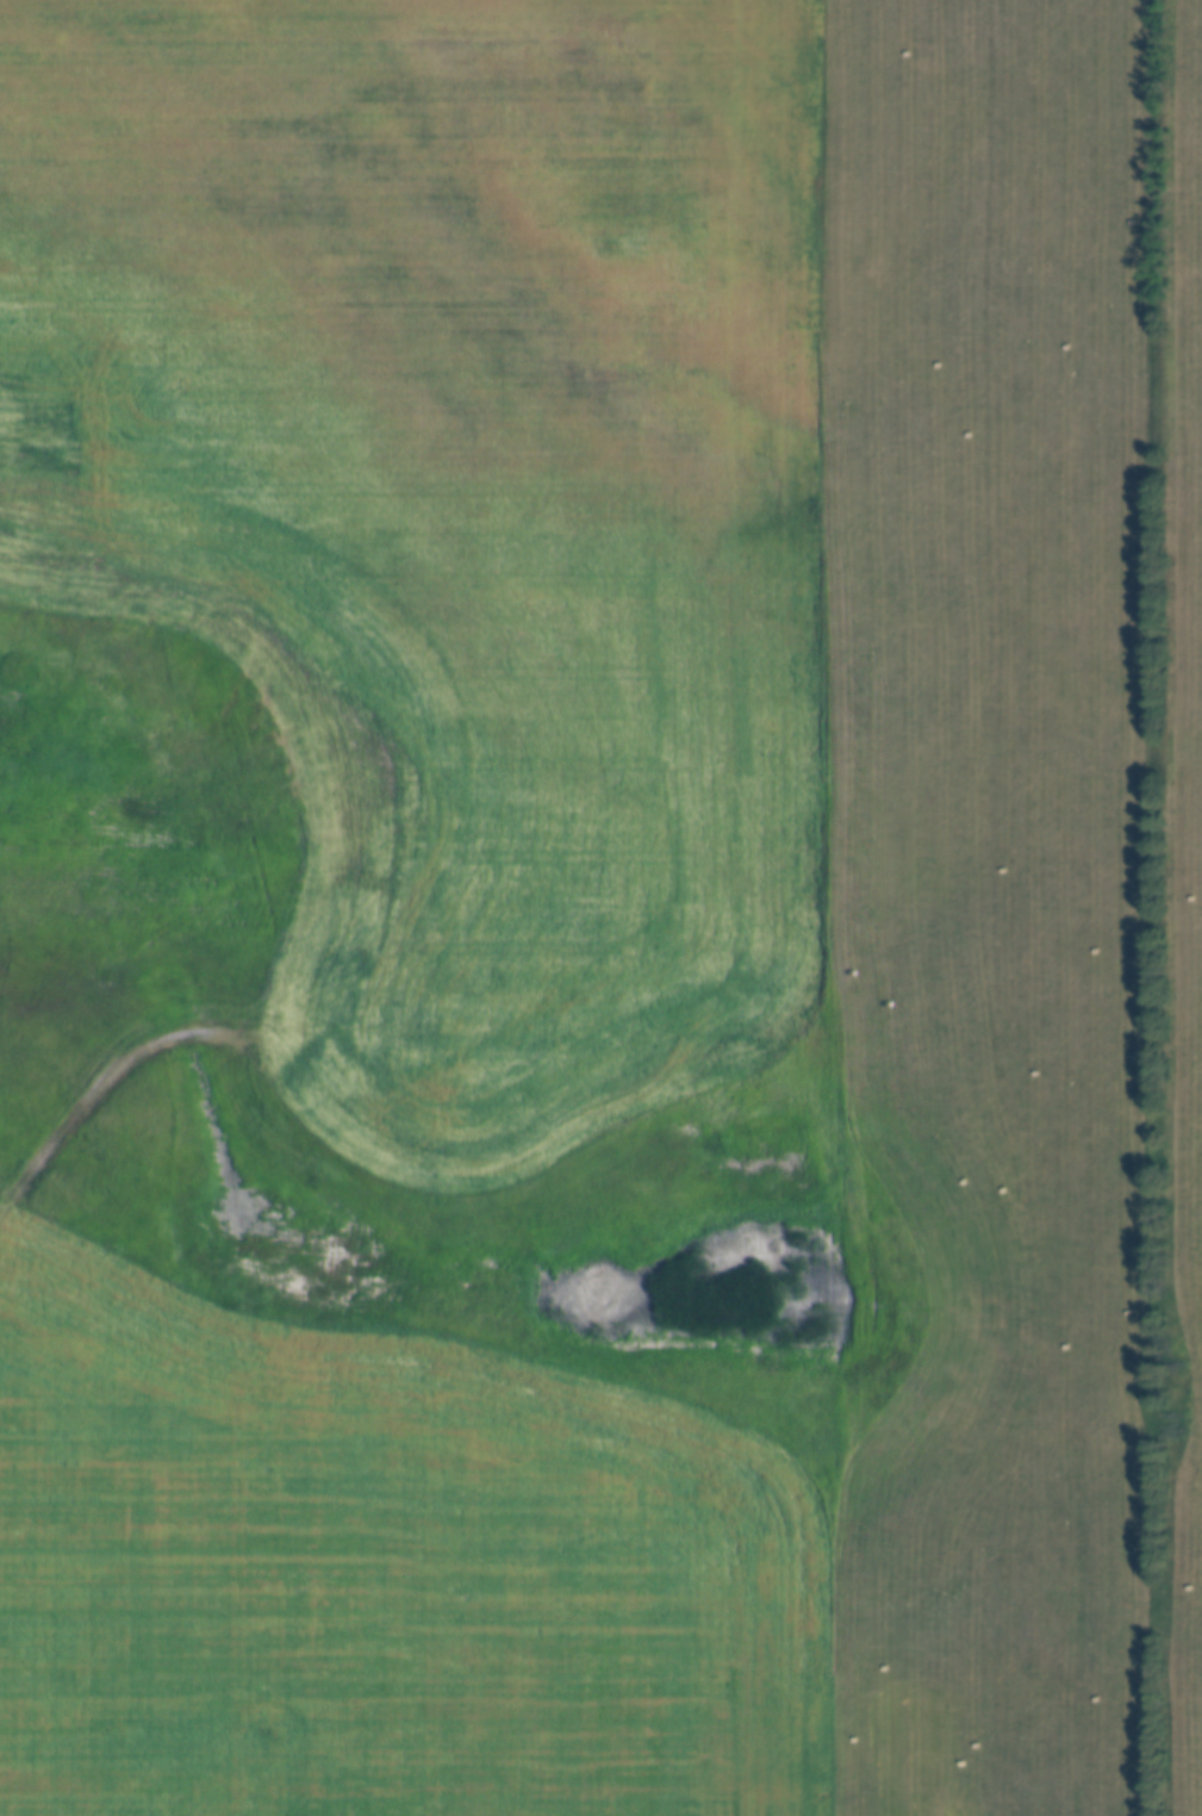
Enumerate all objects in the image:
crop: (456, 510)
crop: (379, 1572)

